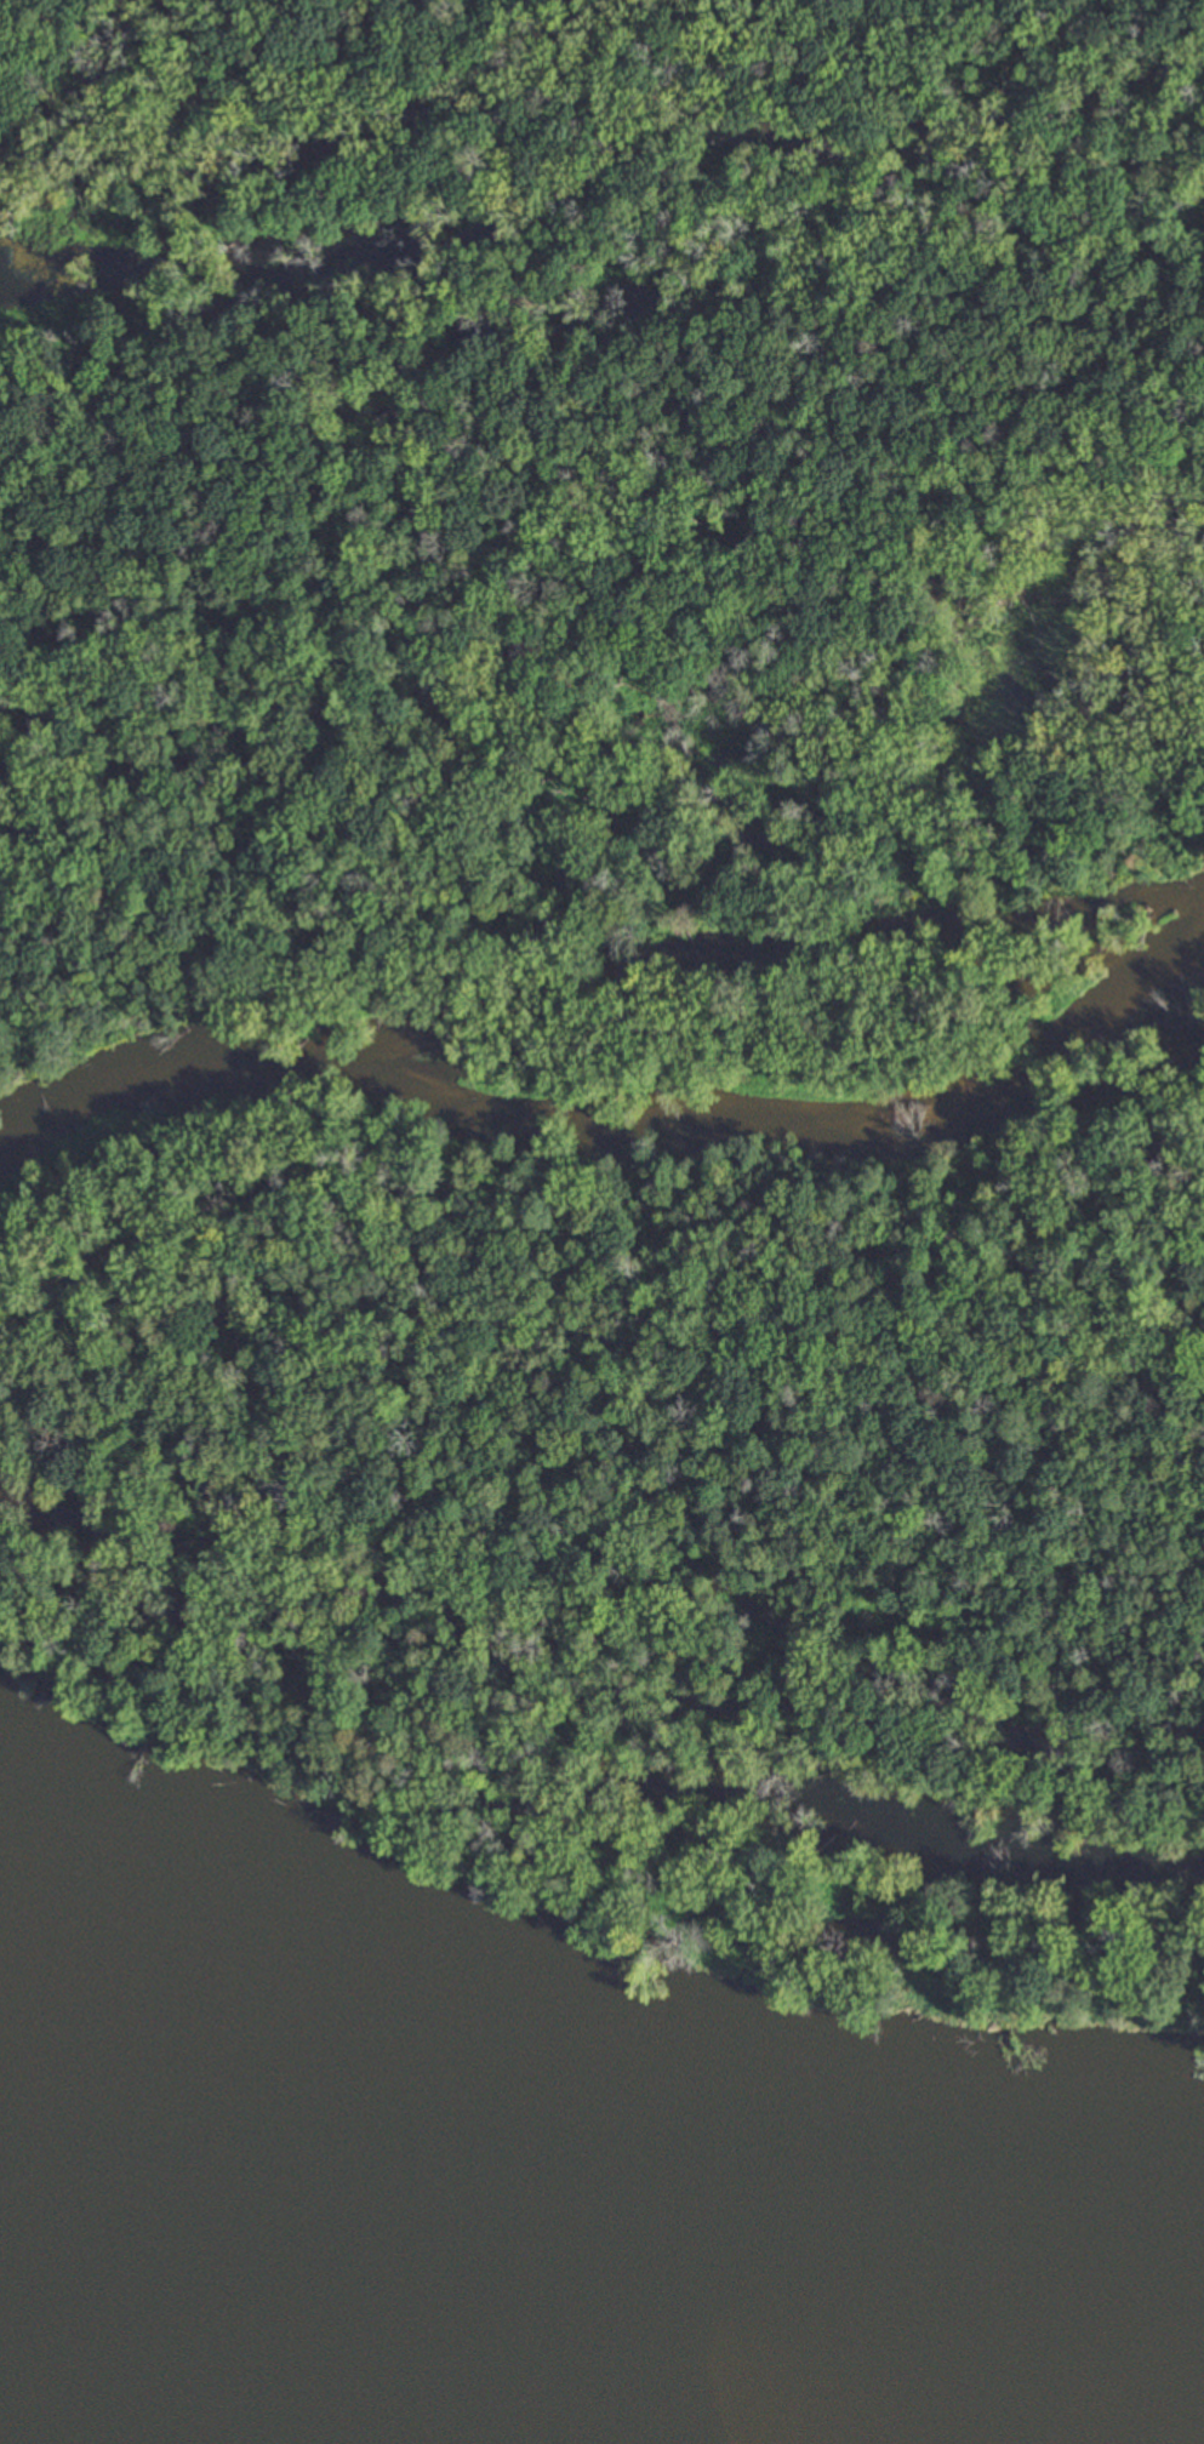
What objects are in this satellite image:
river: (380, 2265)
river: (982, 2297)

